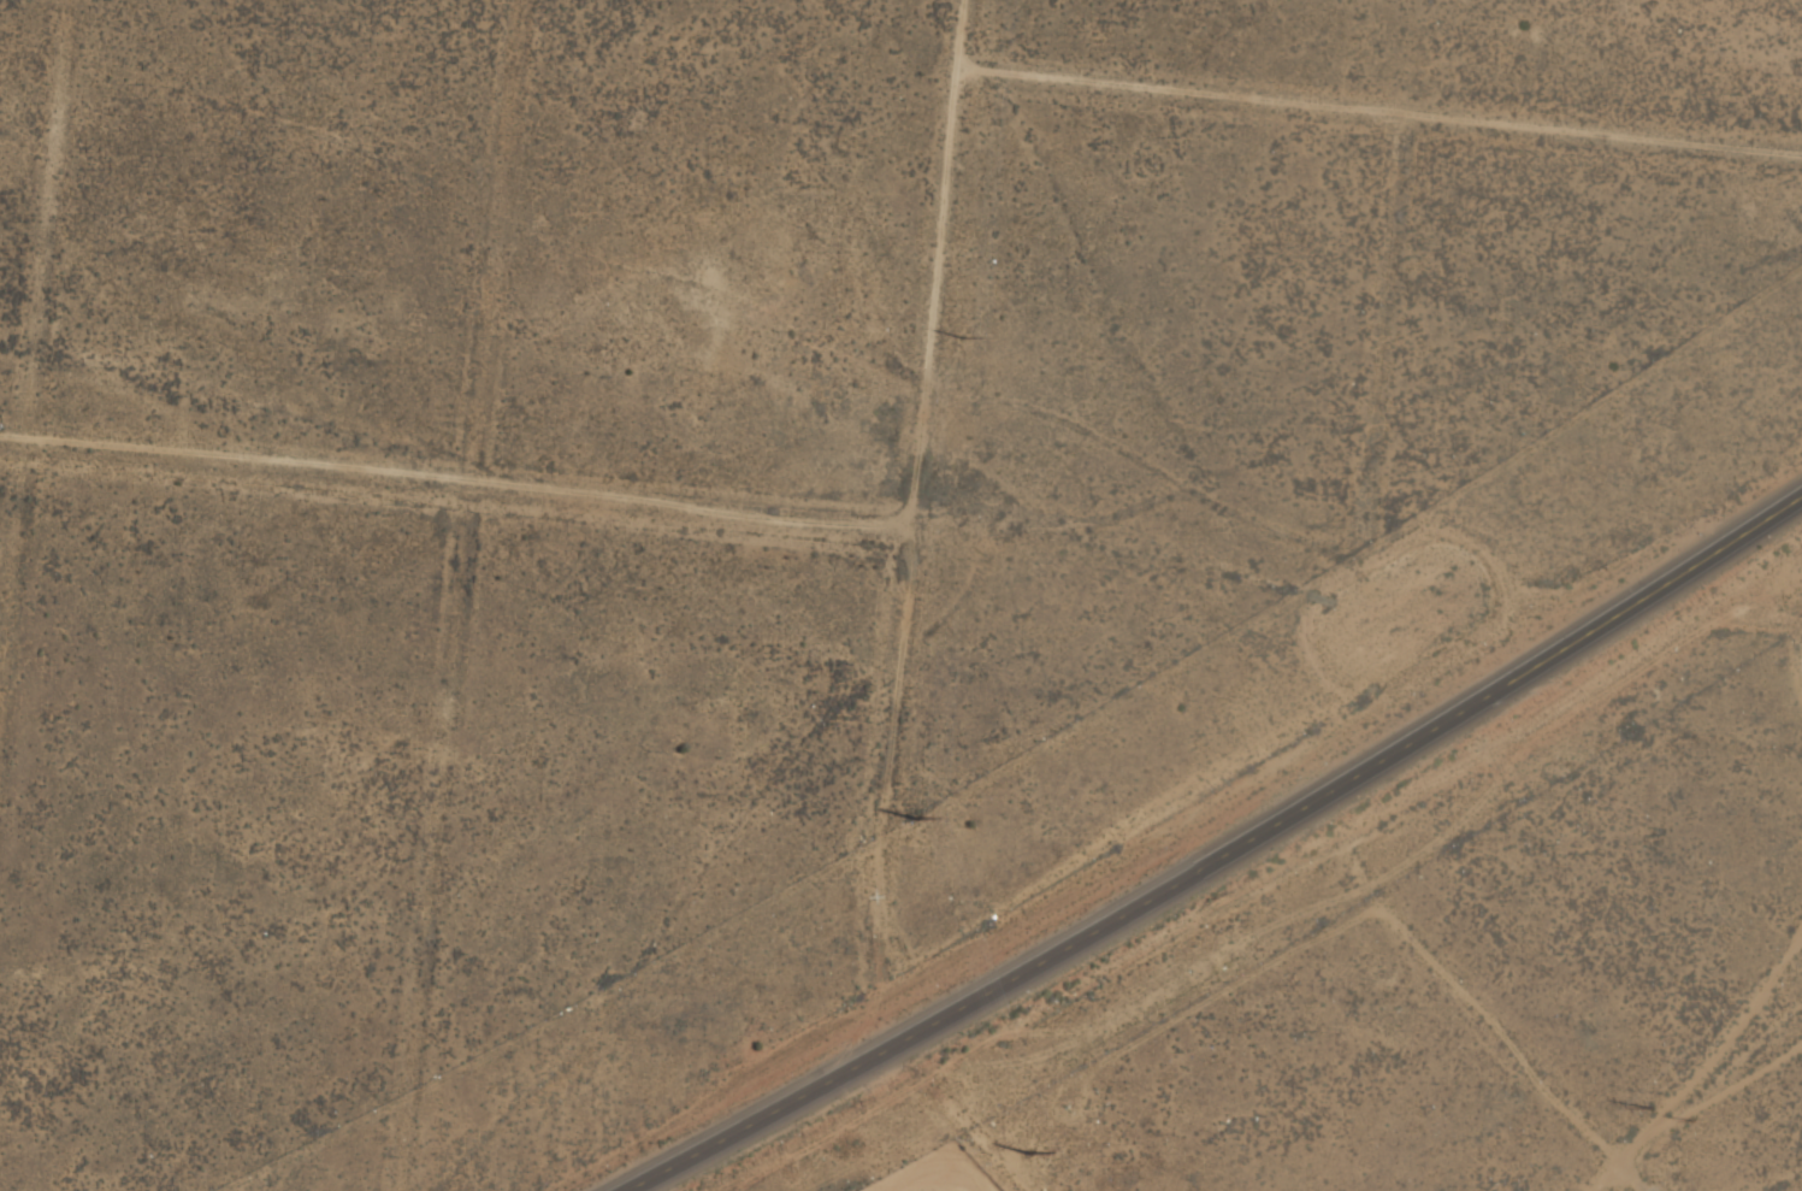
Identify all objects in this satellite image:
road: (1222, 856)
power tower: (1650, 1109)
landfill: (917, 1172)

